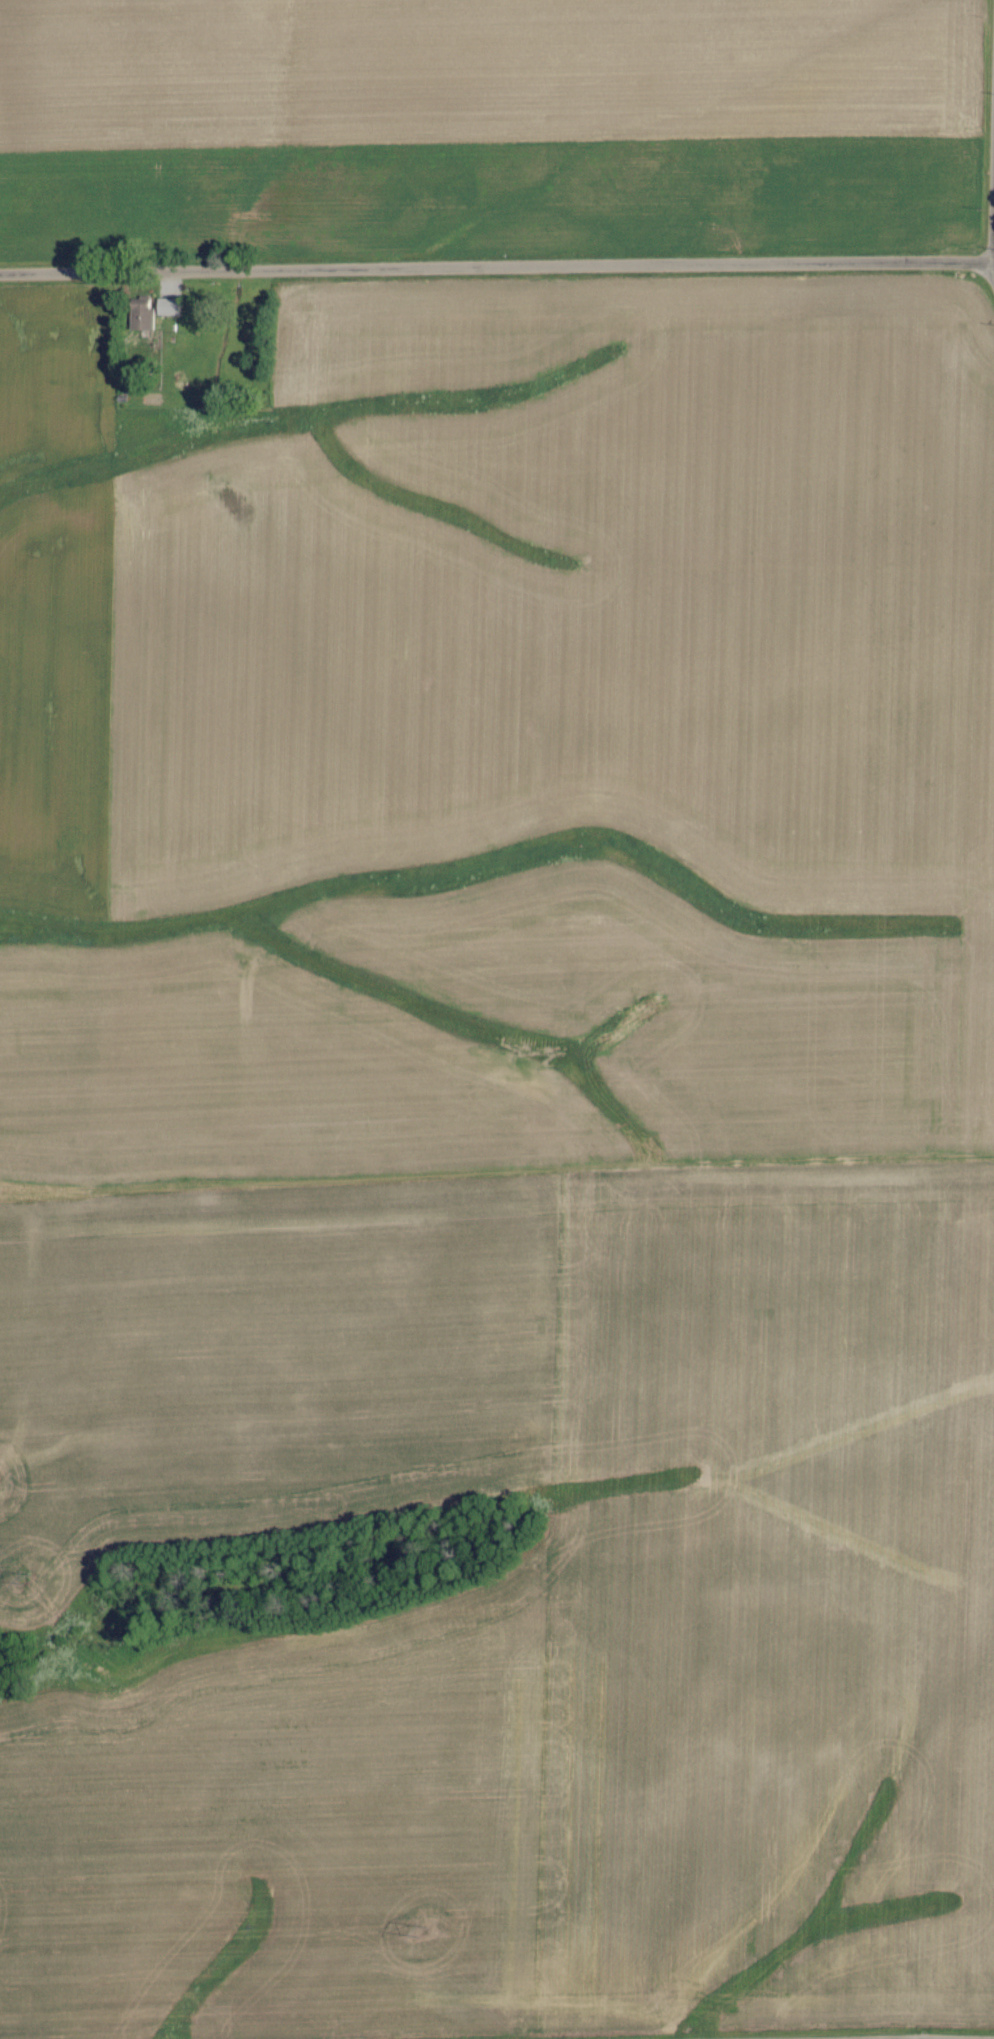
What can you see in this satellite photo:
road: (993, 216)
road: (993, 262)
road: (497, 268)
building: (165, 306)
building: (139, 317)

